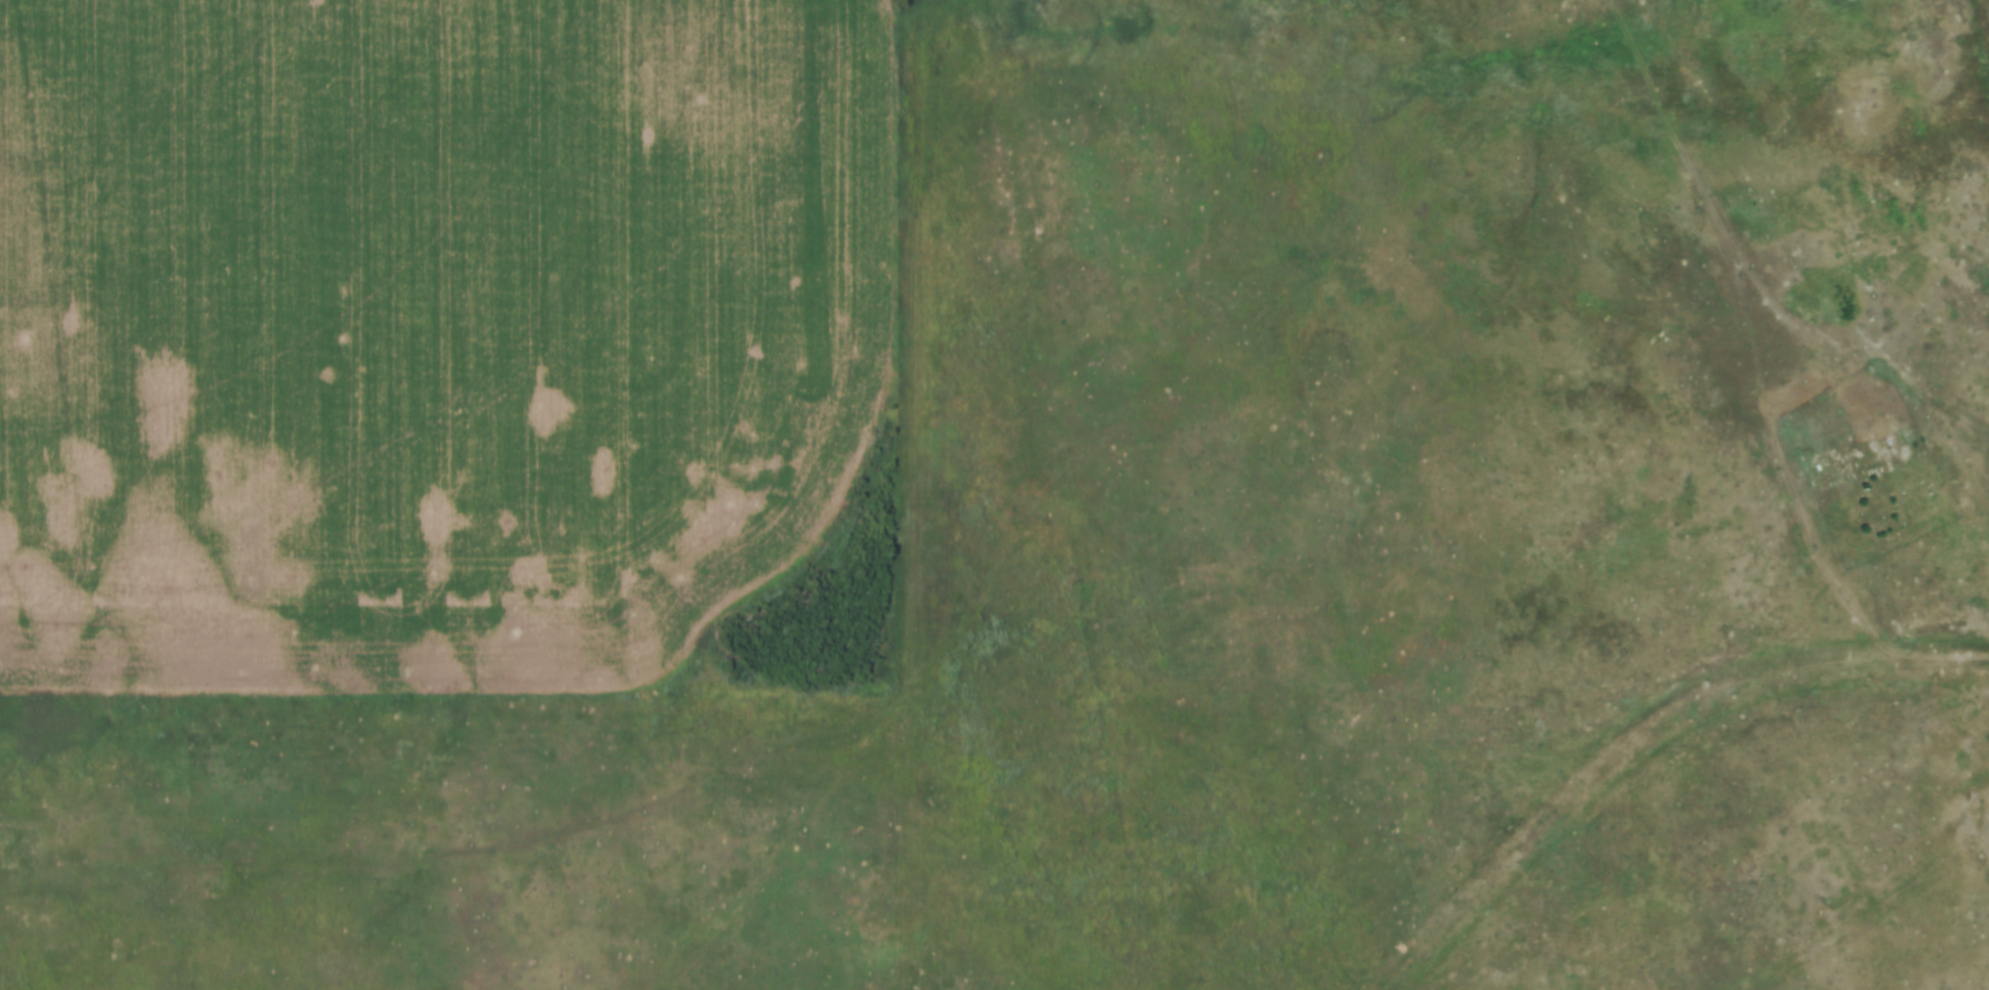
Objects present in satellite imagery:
crop: (394, 309)
road: (1697, 691)

